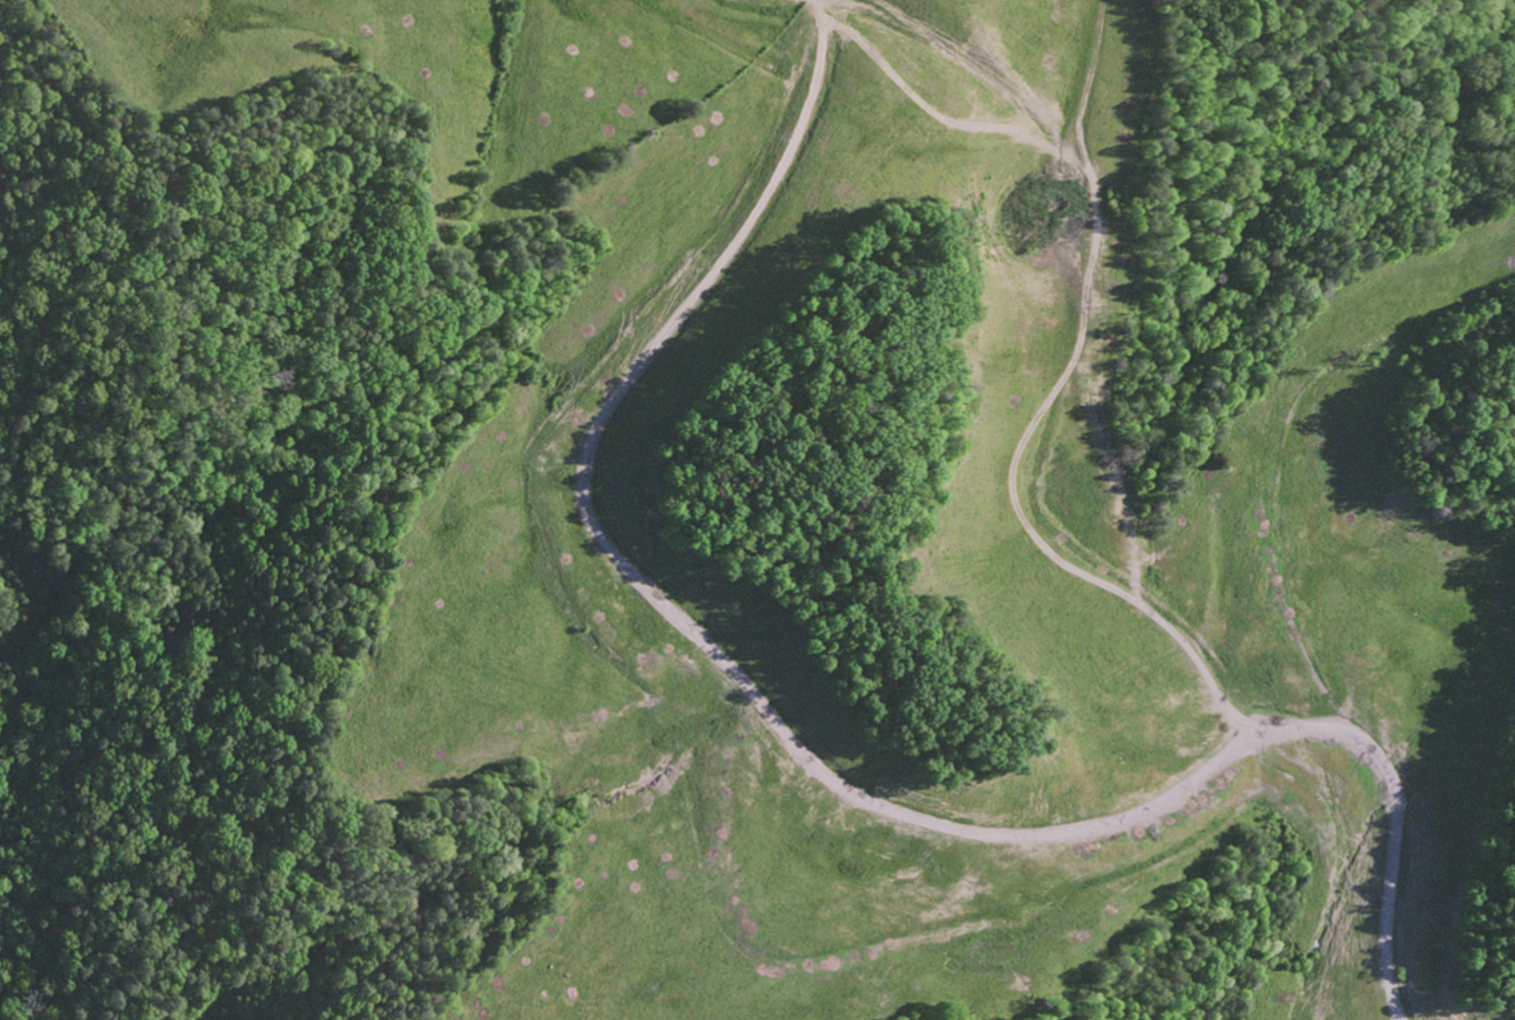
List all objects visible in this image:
road: (1398, 34)
road: (903, 42)
road: (805, 751)

